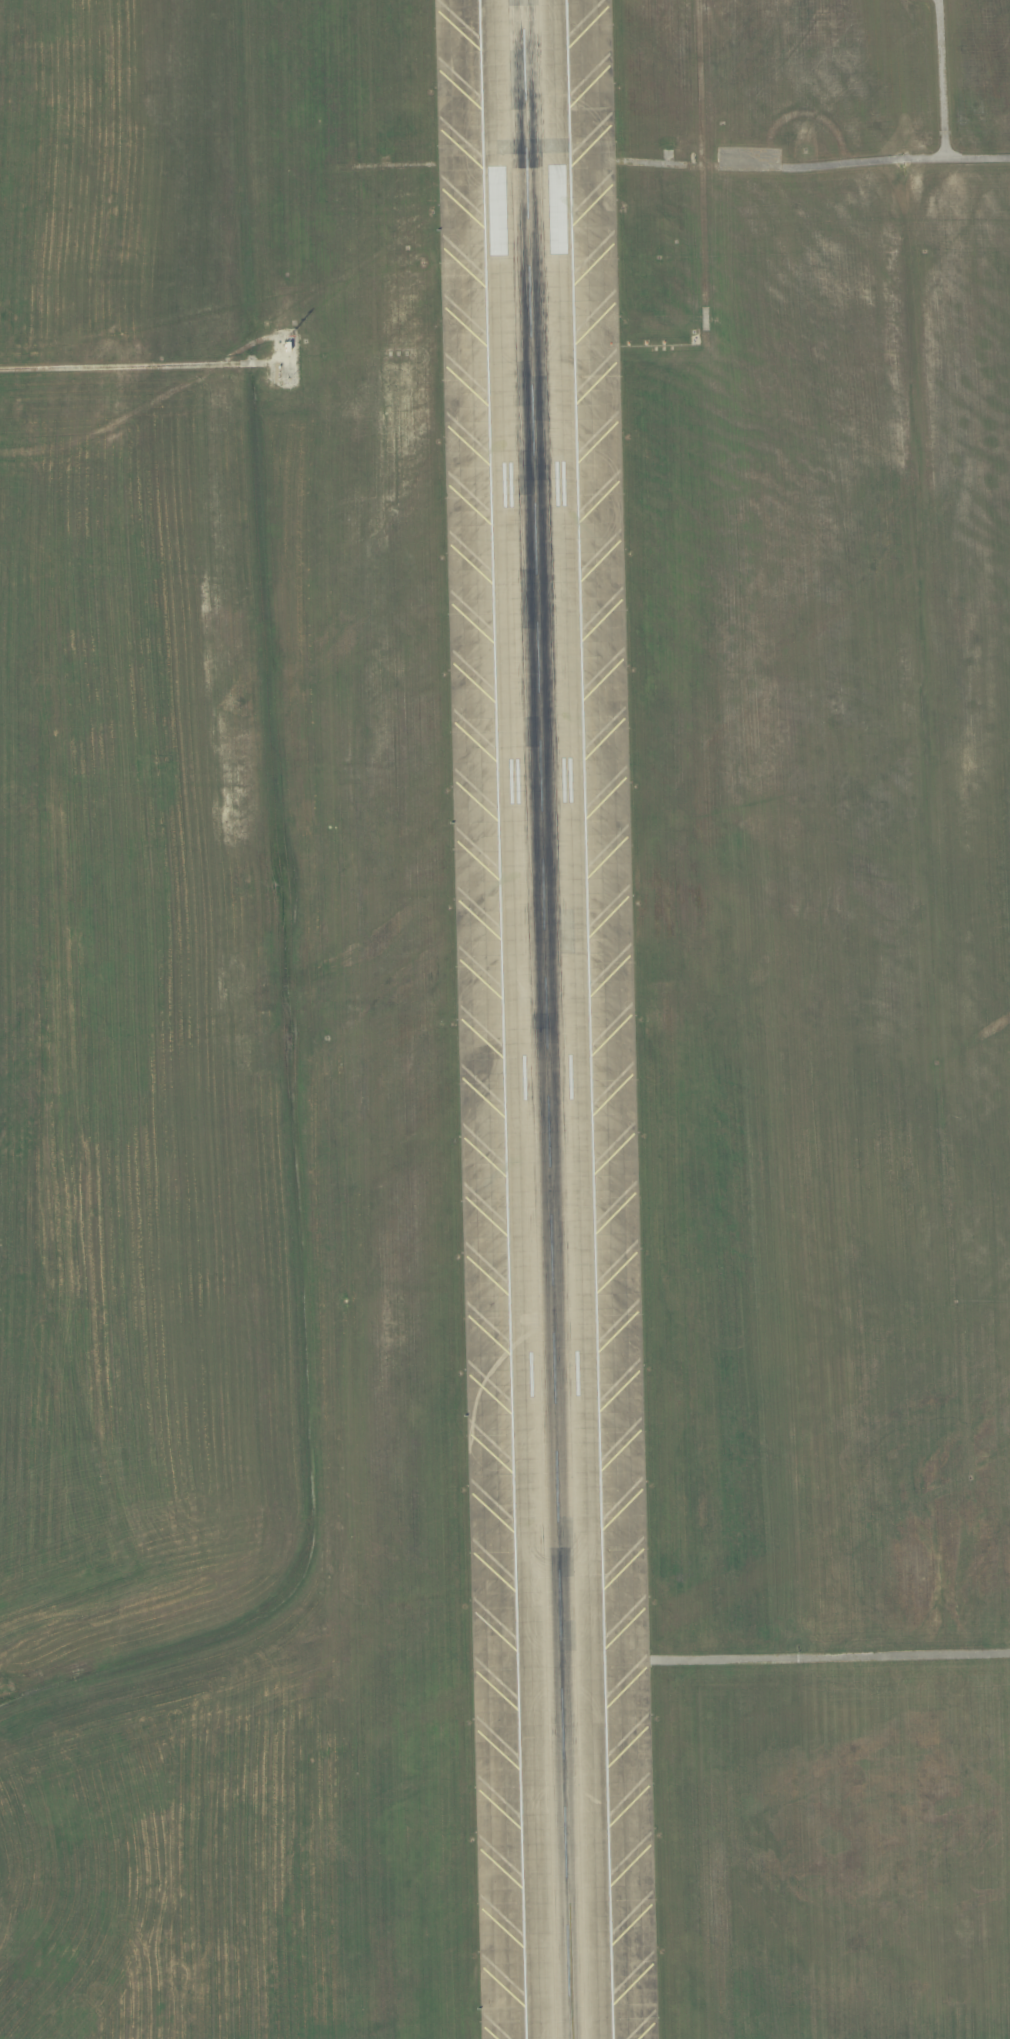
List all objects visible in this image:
railway: (868, 97)
building: (288, 345)
road: (134, 365)
airport: (505, 1019)
airport runway: (545, 1019)
airport taxiway: (569, 1960)

